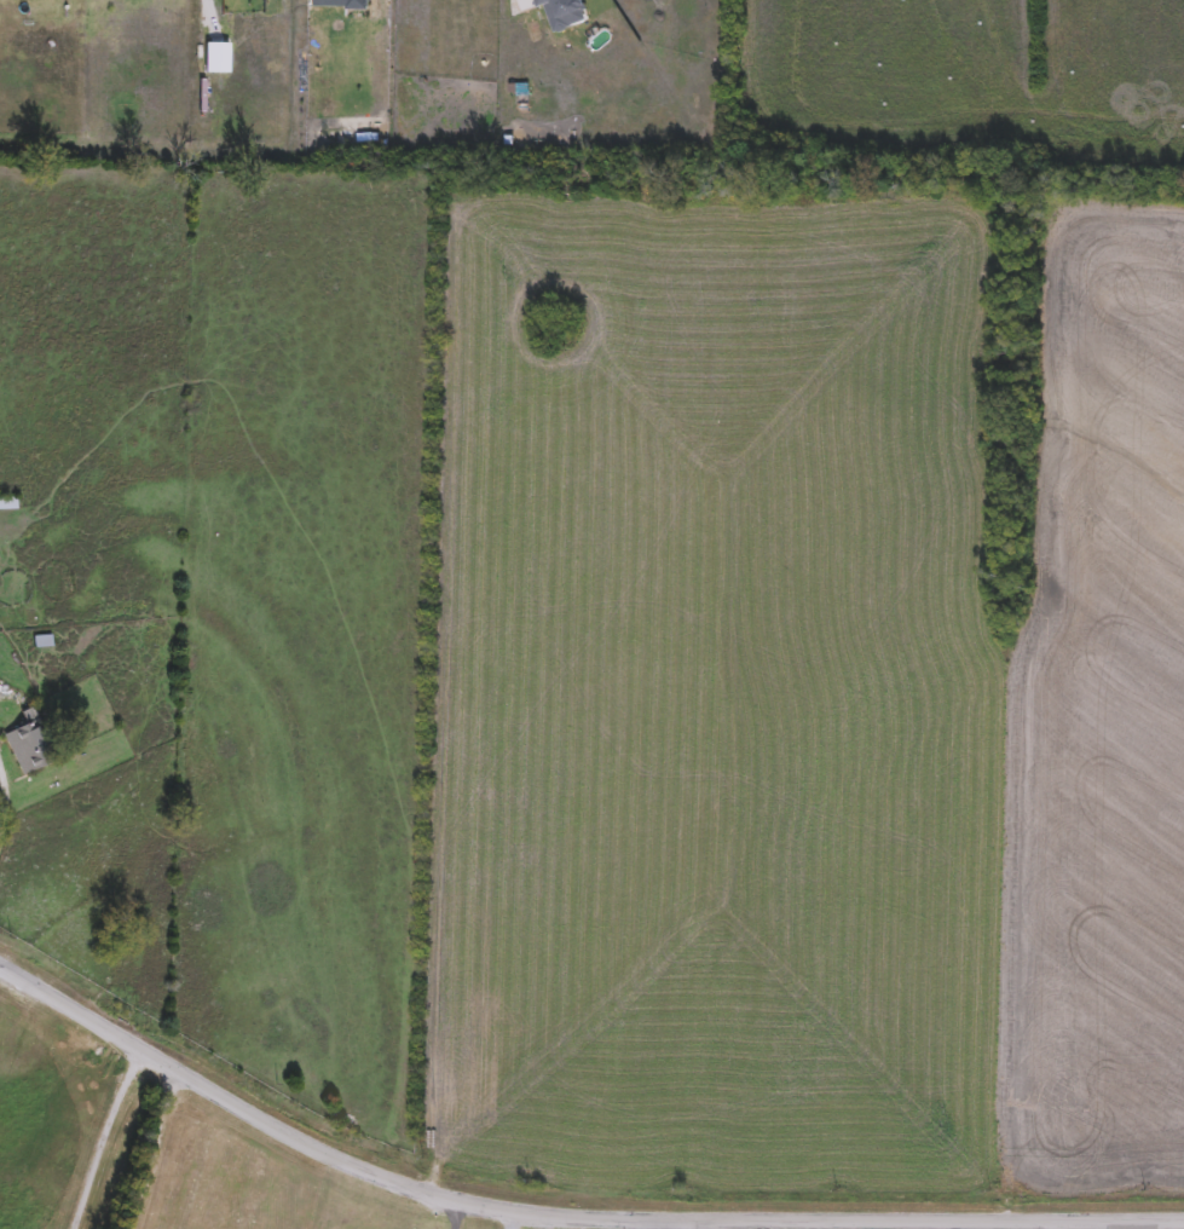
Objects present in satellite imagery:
building: (336, 4)
building: (7, 504)
building: (29, 745)
road: (2, 804)
road: (100, 1138)
road: (152, 1150)
road: (561, 1212)
road: (456, 1216)
road: (687, 1225)

